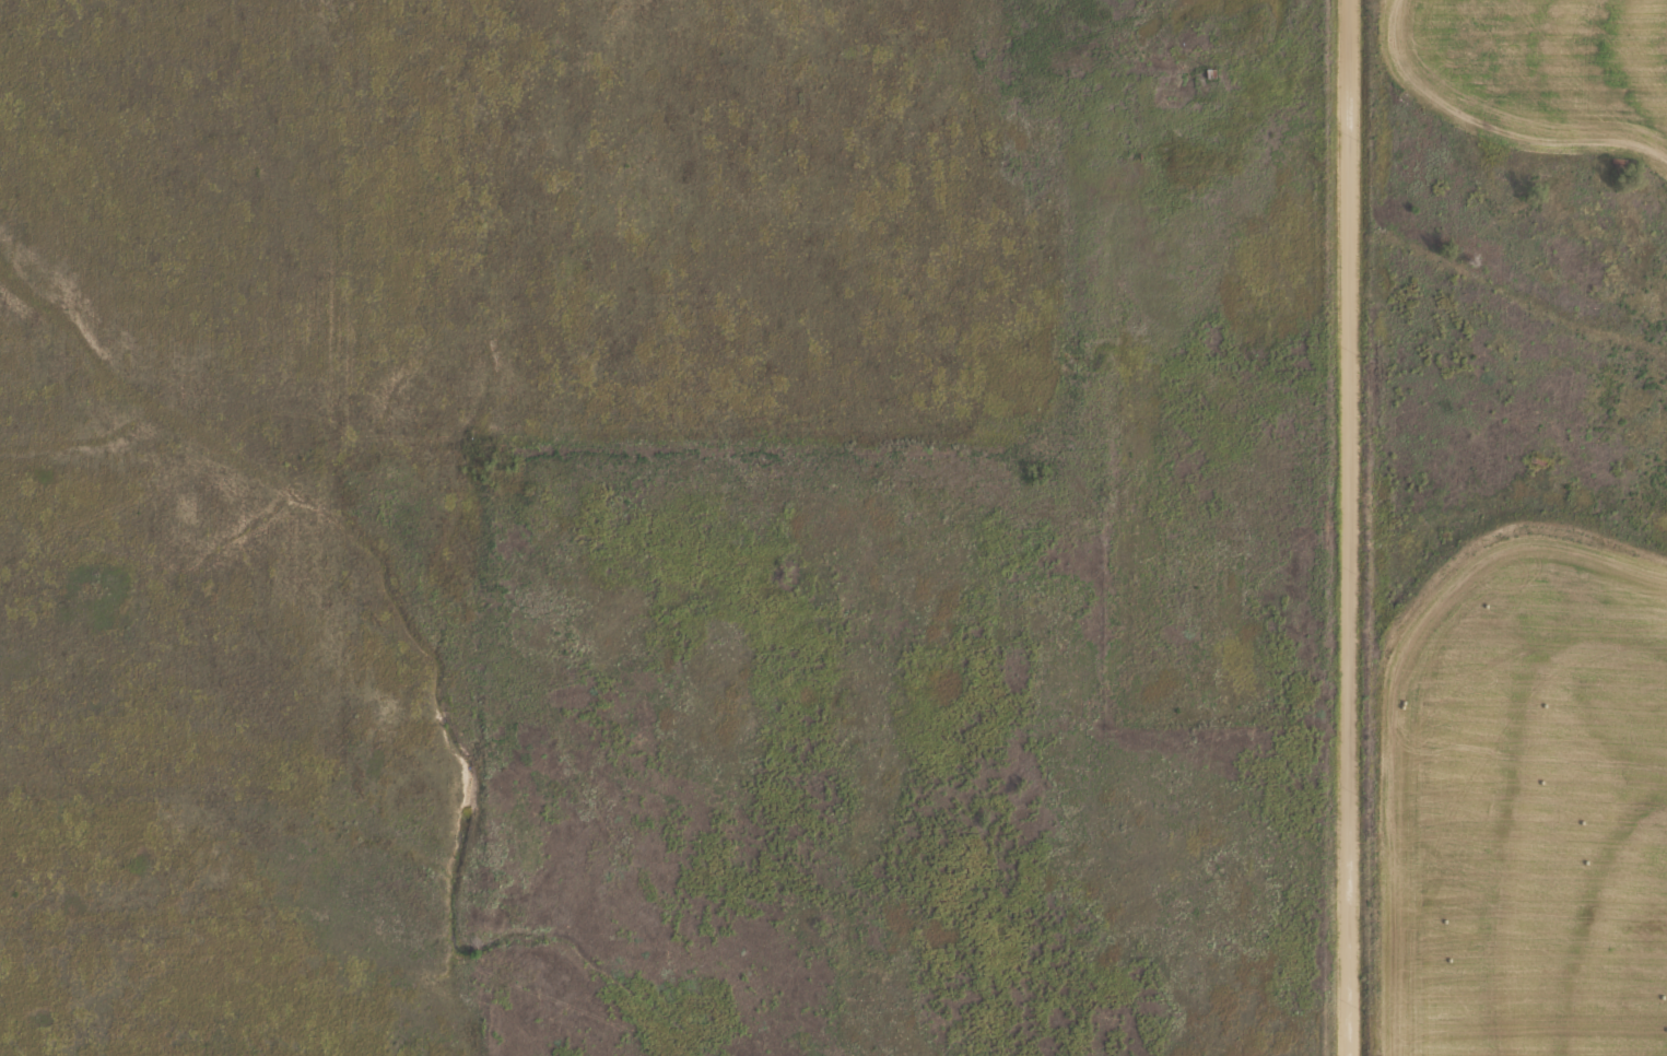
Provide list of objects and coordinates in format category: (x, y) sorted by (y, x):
road: (1351, 527)

